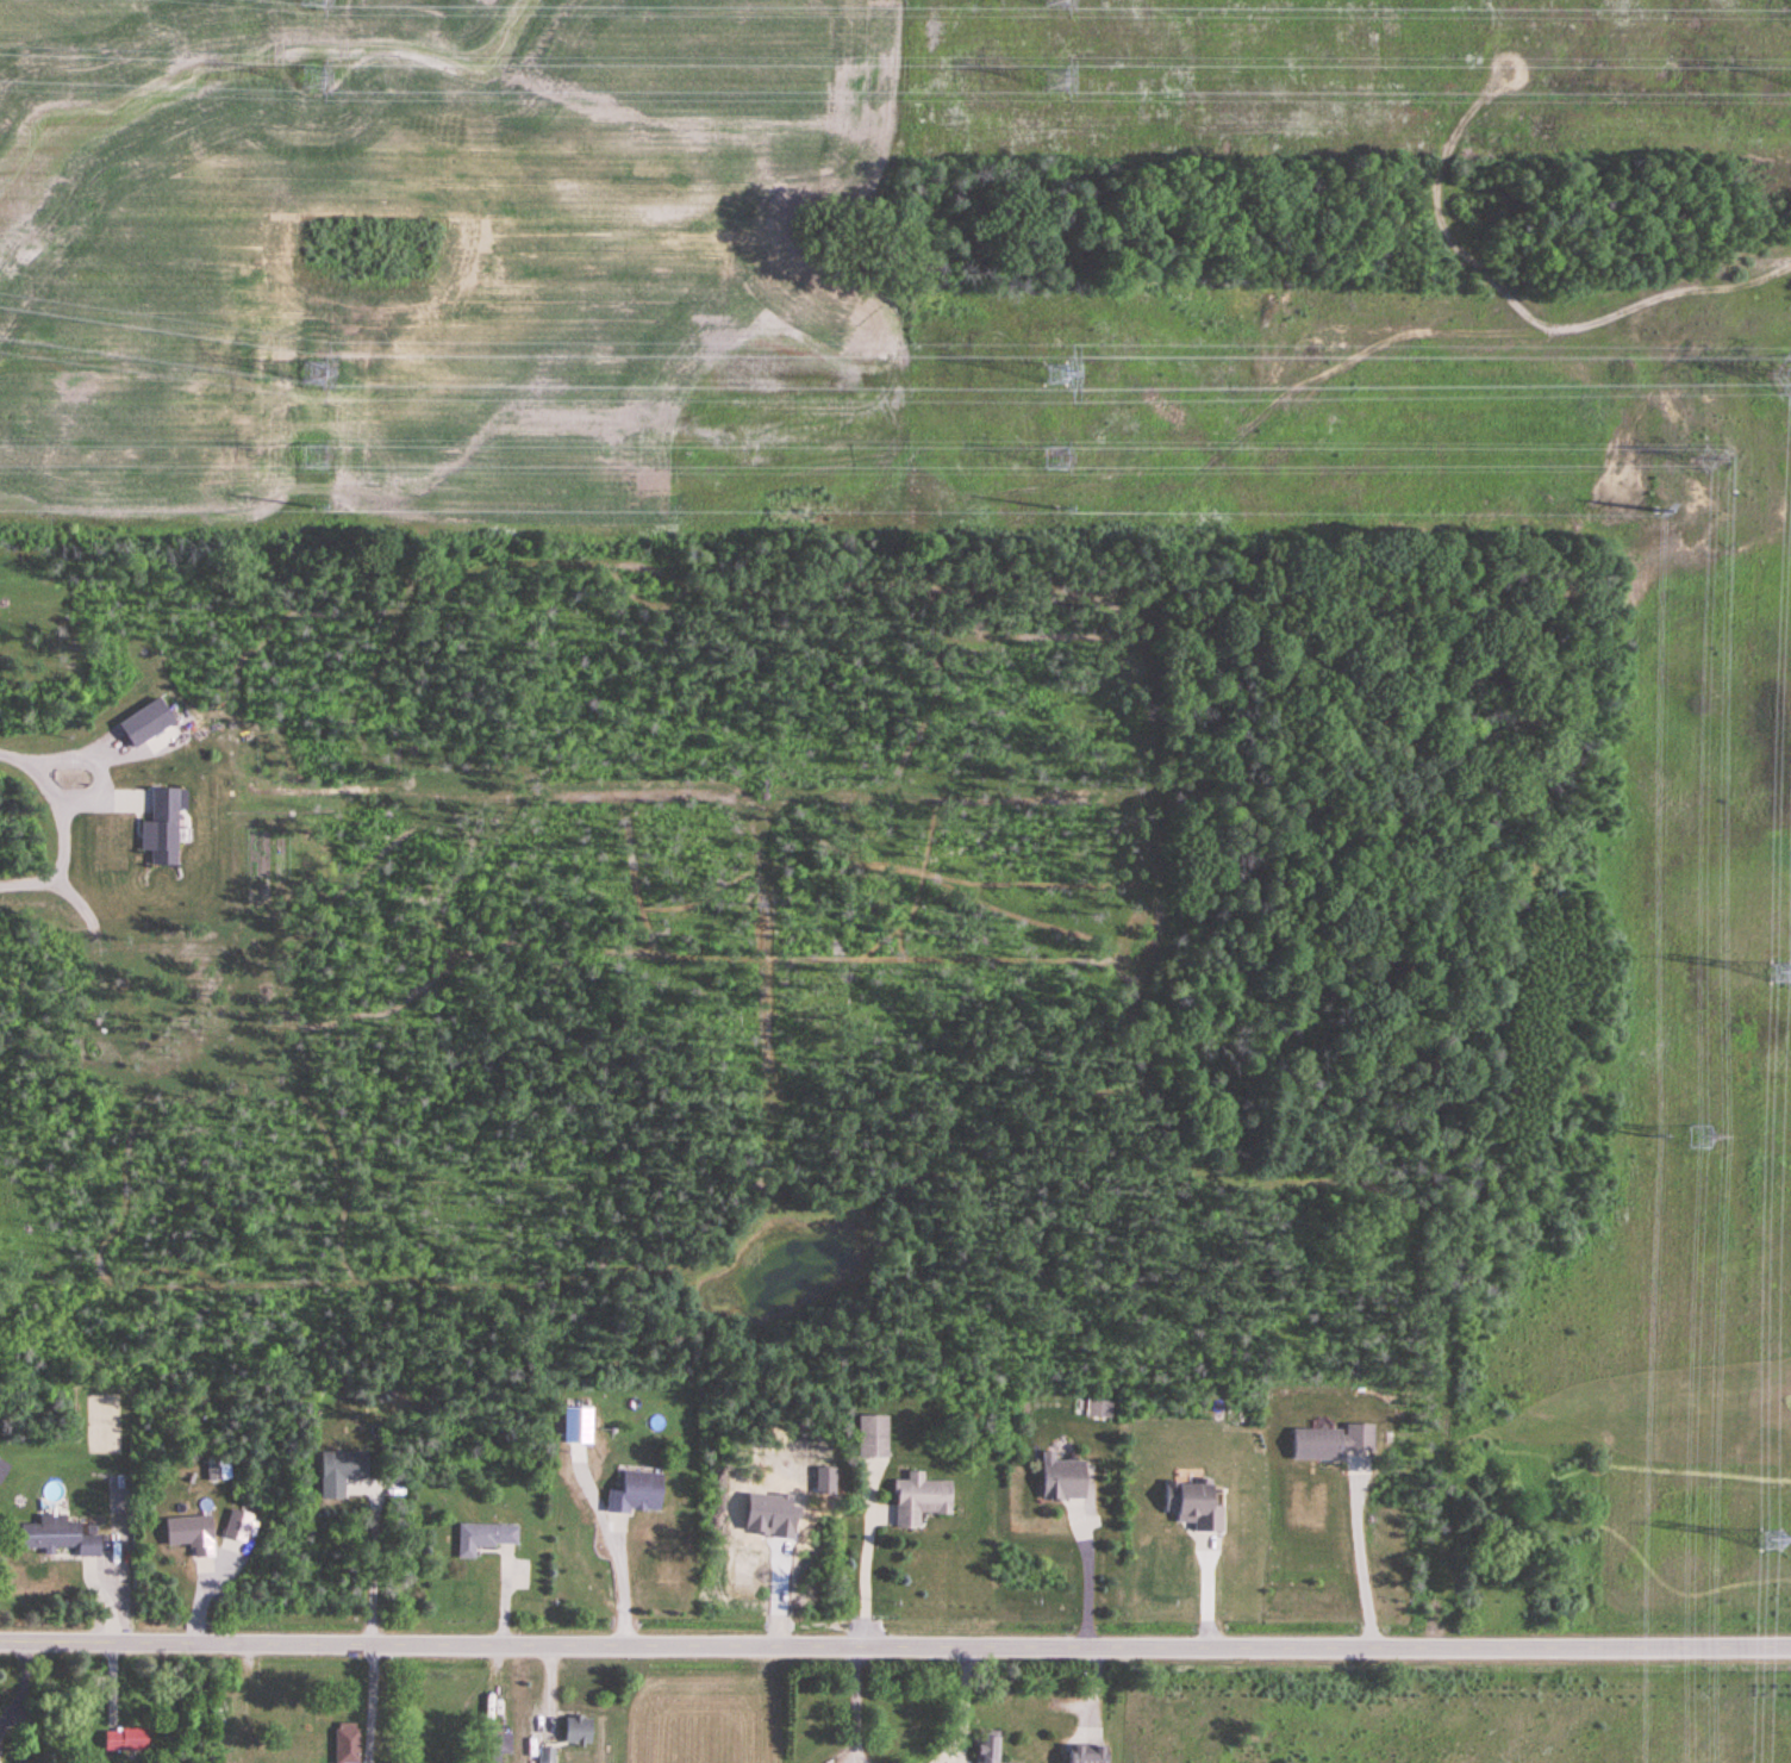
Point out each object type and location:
power tower: (312, 79)
power tower: (1063, 82)
power tower: (314, 374)
power tower: (1057, 376)
power tower: (316, 455)
power tower: (1057, 460)
power tower: (1709, 461)
power tower: (316, 509)
power tower: (1059, 510)
power tower: (1655, 511)
road: (58, 824)
power tower: (1780, 976)
power tower: (1649, 1136)
power tower: (1702, 1136)
building: (873, 1437)
building: (1331, 1443)
building: (341, 1472)
building: (1063, 1479)
building: (637, 1494)
building: (921, 1500)
building: (1200, 1507)
building: (192, 1534)
building: (61, 1537)
building: (485, 1539)
road: (616, 1543)
power tower: (1771, 1545)
road: (1356, 1562)
road: (369, 1572)
road: (1082, 1574)
road: (861, 1581)
road: (894, 1646)
road: (19, 1682)
crop: (704, 1711)
crop: (1450, 1713)
building: (579, 1730)
building: (126, 1740)
building: (501, 1742)
building: (348, 1743)
building: (988, 1750)
building: (1087, 1753)
building: (548, 1755)

